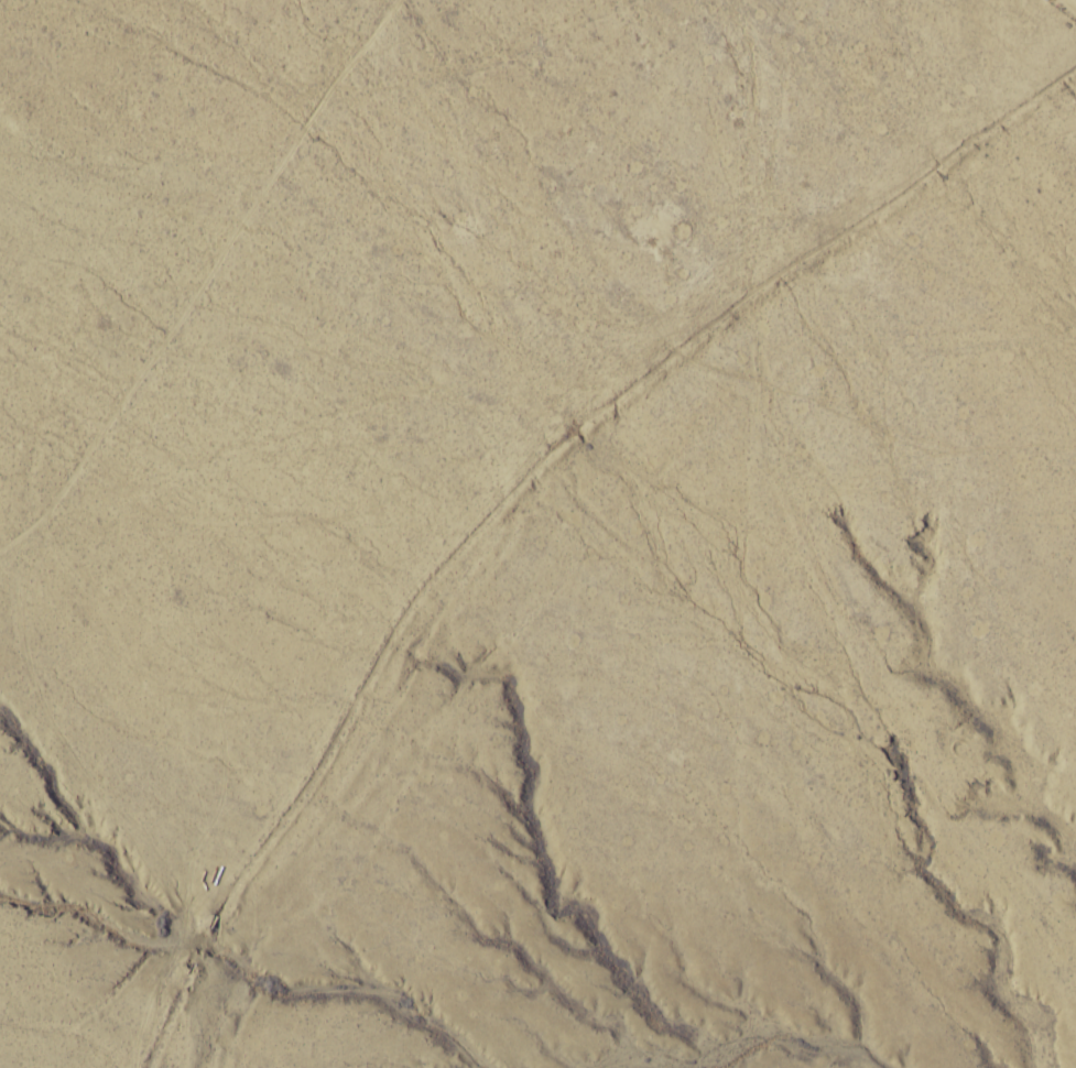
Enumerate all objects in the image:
road: (235, 320)

